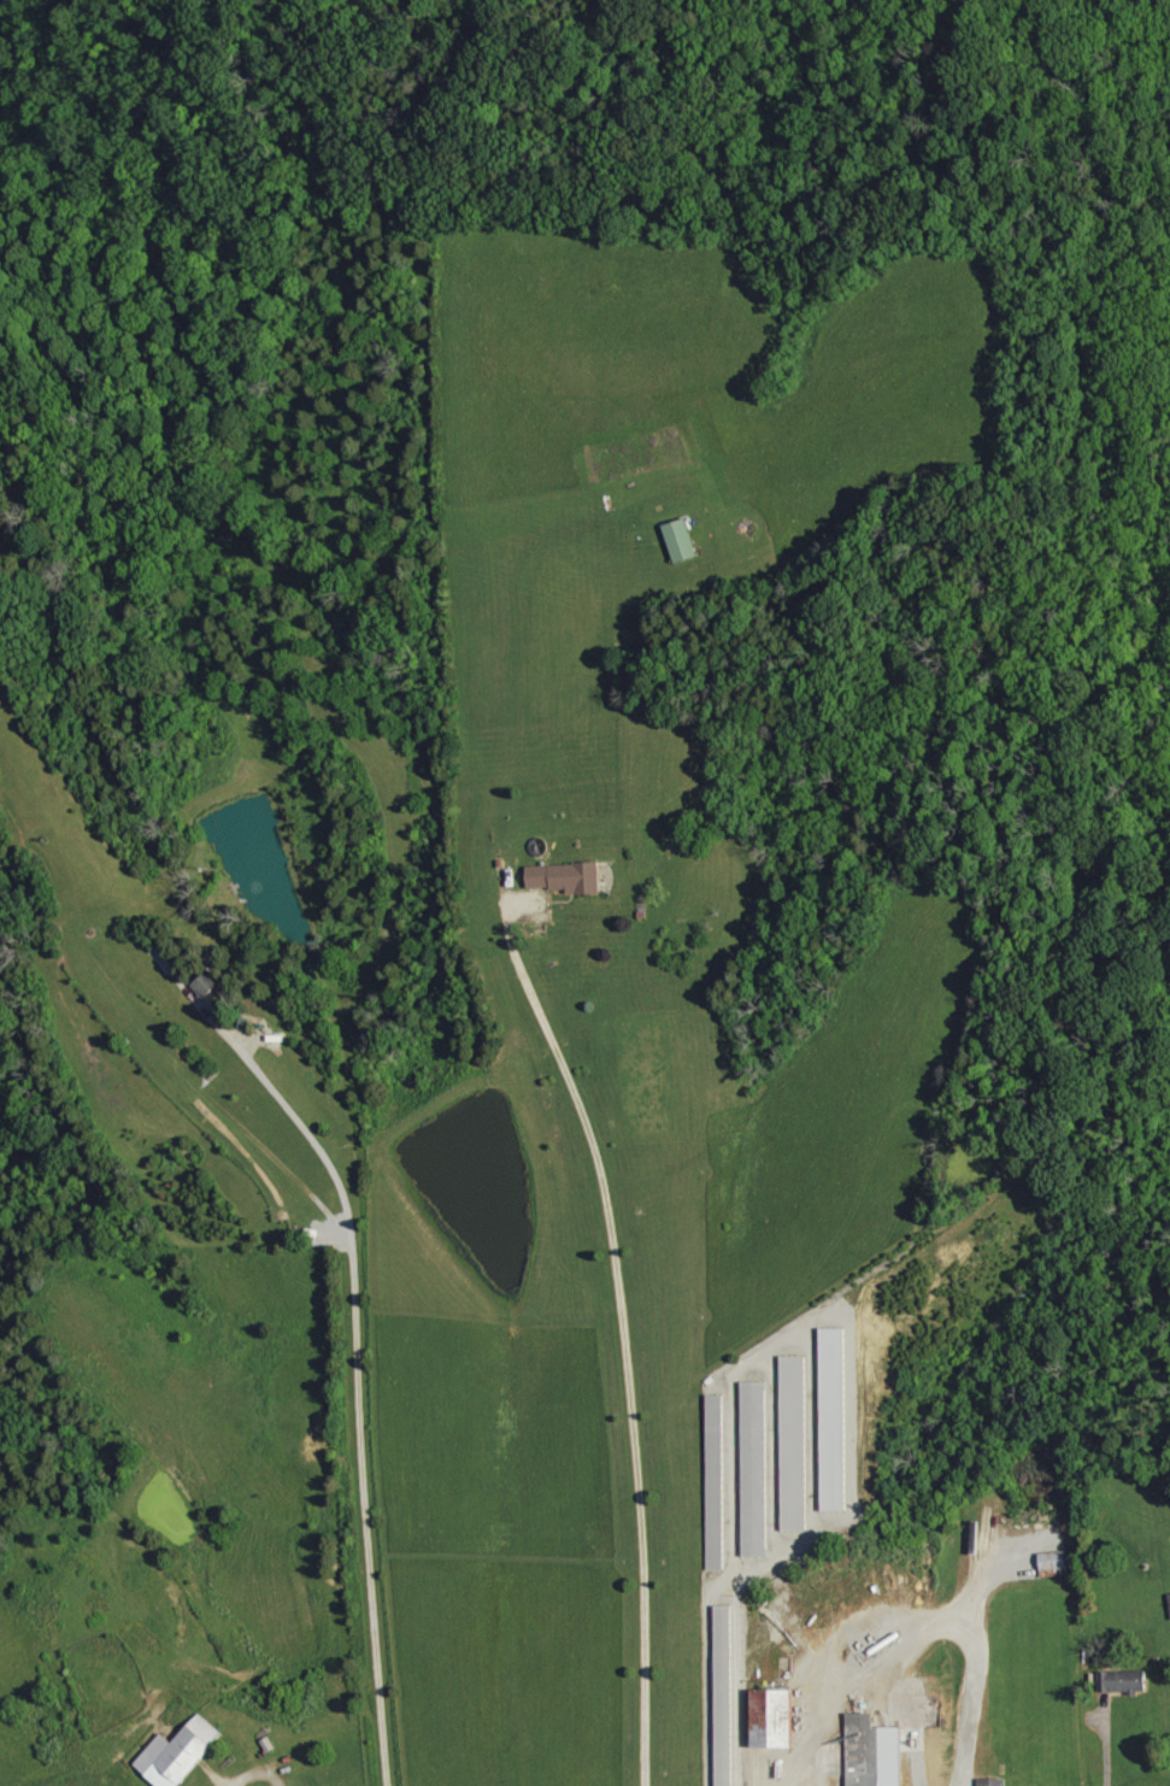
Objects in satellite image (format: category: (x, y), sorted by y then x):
building: (681, 540)
building: (566, 877)
building: (207, 983)
road: (619, 1321)
building: (833, 1420)
building: (793, 1443)
building: (754, 1468)
building: (1053, 1559)
road: (1000, 1574)
building: (1169, 1593)
road: (925, 1632)
building: (1123, 1680)
building: (772, 1717)
road: (1115, 1744)
building: (872, 1751)
building: (178, 1752)
road: (214, 1779)
building: (993, 1781)

